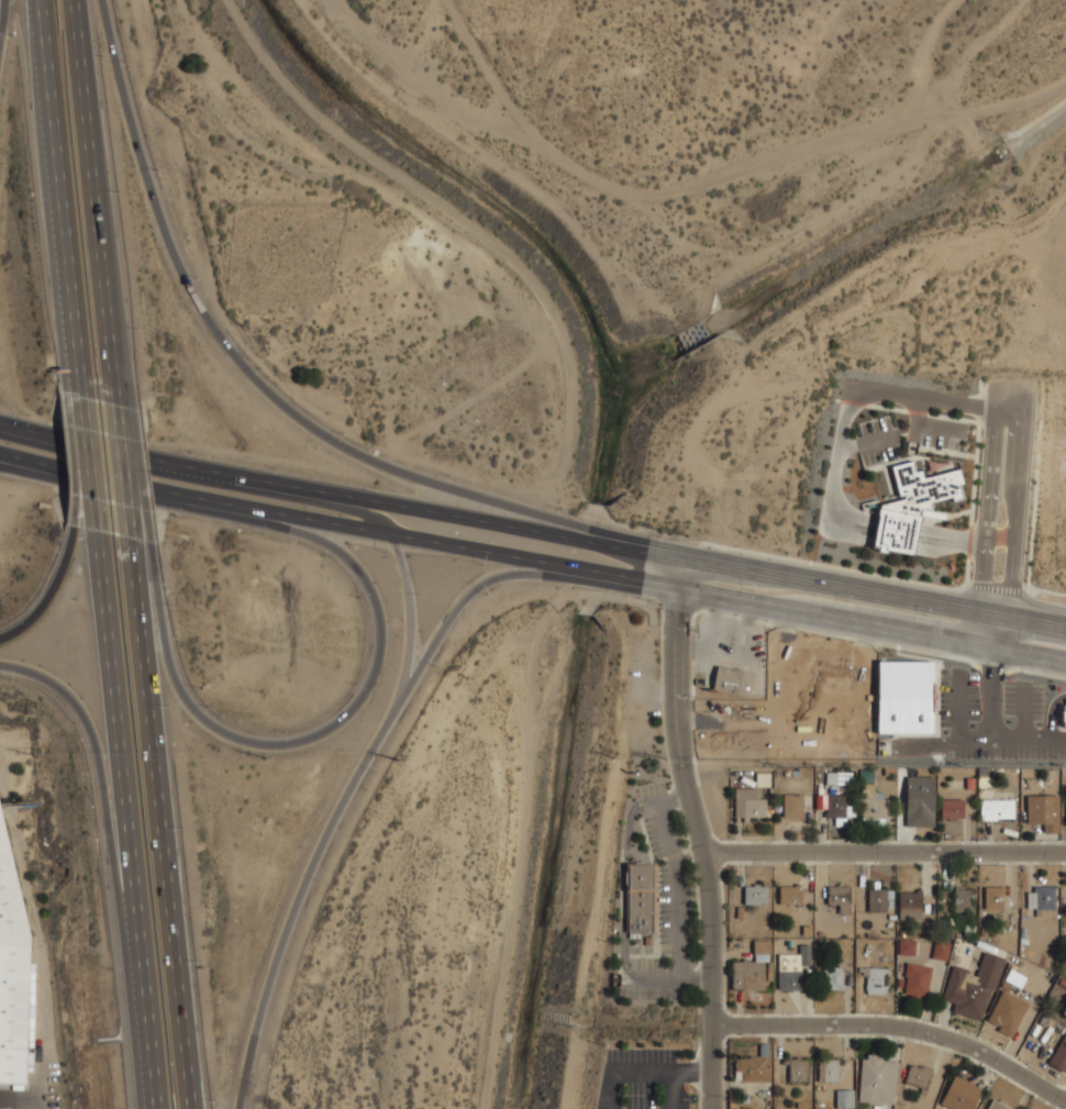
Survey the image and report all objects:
road: (5, 33)
road: (62, 199)
road: (97, 202)
road: (452, 211)
park: (281, 254)
road: (240, 354)
road: (1010, 395)
road: (919, 406)
road: (936, 423)
road: (91, 429)
parking lot: (937, 430)
road: (34, 434)
parking lot: (877, 439)
road: (878, 440)
road: (851, 447)
road: (840, 455)
road: (11, 457)
road: (11, 462)
road: (131, 469)
road: (197, 470)
road: (87, 492)
road: (98, 496)
building: (912, 504)
road: (144, 510)
road: (295, 514)
road: (449, 514)
road: (988, 523)
road: (1014, 528)
road: (597, 540)
road: (591, 574)
road: (408, 586)
road: (843, 586)
road: (54, 591)
road: (749, 613)
road: (451, 619)
road: (840, 620)
road: (744, 641)
parking lot: (731, 643)
road: (789, 647)
road: (709, 653)
building: (832, 673)
building: (733, 679)
road: (867, 685)
road: (152, 689)
building: (906, 697)
building: (833, 707)
road: (776, 708)
road: (345, 712)
building: (1065, 716)
road: (687, 719)
parking lot: (728, 719)
road: (729, 719)
road: (991, 730)
building: (889, 770)
building: (982, 772)
building: (1064, 772)
building: (787, 773)
building: (795, 773)
building: (960, 775)
building: (866, 776)
building: (839, 778)
building: (763, 779)
building: (982, 781)
building: (969, 783)
road: (126, 787)
road: (679, 796)
road: (659, 801)
building: (821, 801)
building: (920, 801)
building: (747, 803)
building: (951, 803)
building: (792, 805)
building: (873, 806)
building: (996, 808)
building: (839, 809)
building: (1043, 811)
building: (769, 812)
road: (112, 820)
road: (699, 831)
road: (886, 852)
road: (622, 888)
road: (675, 890)
building: (755, 892)
building: (790, 892)
building: (643, 896)
building: (840, 896)
building: (995, 896)
building: (1041, 896)
building: (879, 898)
building: (964, 899)
building: (910, 903)
road: (298, 906)
parking lot: (664, 909)
building: (907, 945)
building: (941, 950)
building: (792, 968)
building: (752, 969)
building: (12, 971)
road: (181, 975)
building: (834, 977)
building: (917, 978)
building: (1014, 978)
building: (877, 979)
road: (654, 980)
road: (693, 983)
building: (974, 986)
building: (1064, 1009)
building: (1008, 1011)
road: (897, 1028)
building: (763, 1049)
building: (1059, 1054)
building: (752, 1068)
building: (797, 1068)
road: (691, 1069)
building: (828, 1069)
road: (643, 1071)
building: (918, 1076)
road: (153, 1077)
building: (877, 1079)
parking lot: (642, 1080)
building: (763, 1087)
road: (610, 1089)
road: (673, 1089)
building: (960, 1094)
building: (844, 1098)
road: (698, 1104)
building: (799, 1105)
building: (996, 1105)
building: (768, 1107)

